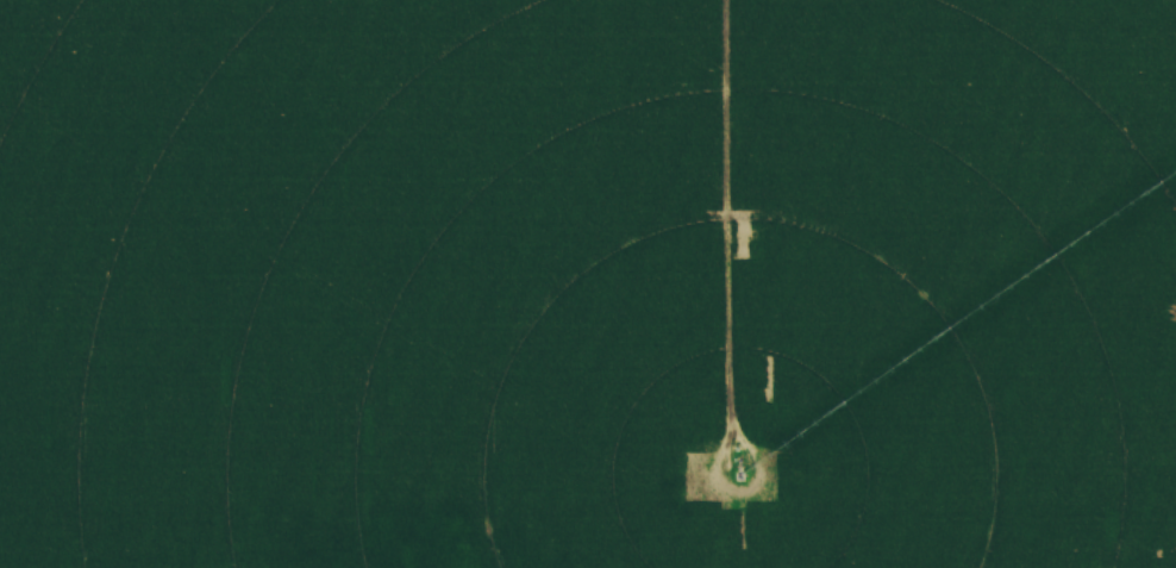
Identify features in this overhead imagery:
crop: (588, 283)

